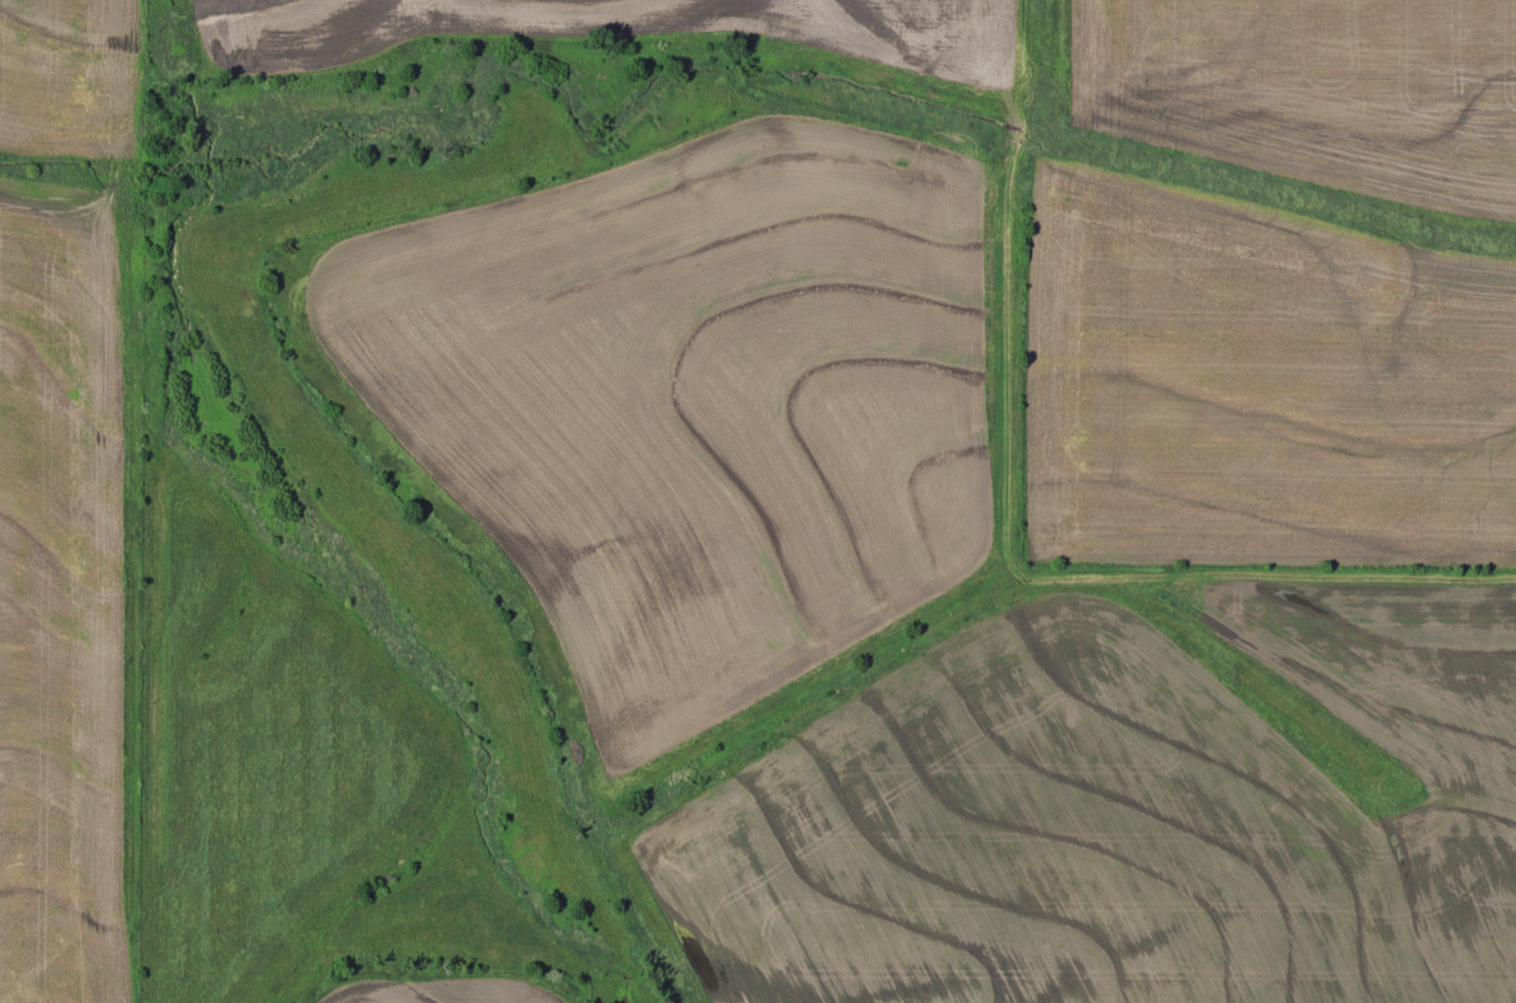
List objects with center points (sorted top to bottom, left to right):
crop: (1312, 91)
crop: (1258, 387)

